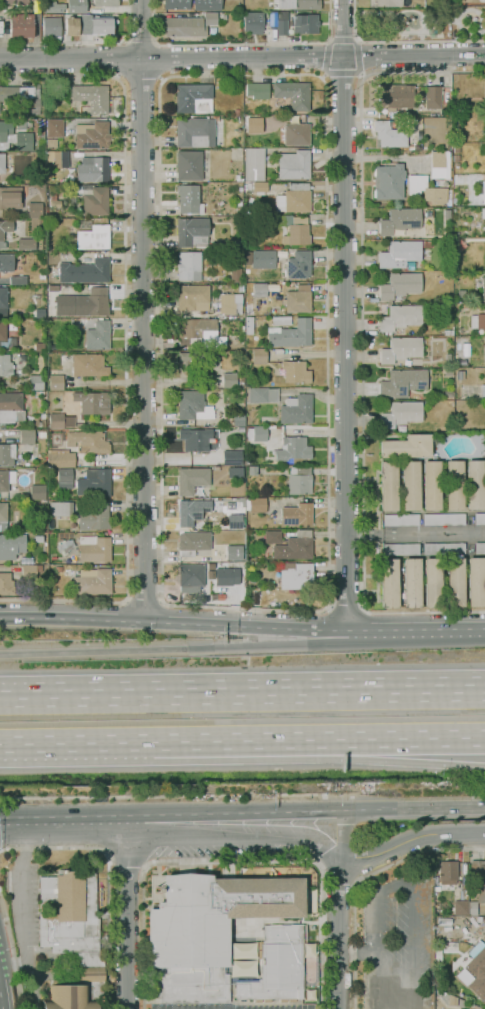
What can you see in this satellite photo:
building: (484, 1)
building: (16, 2)
building: (104, 2)
building: (389, 3)
building: (176, 4)
building: (297, 4)
building: (207, 5)
building: (421, 5)
building: (76, 6)
building: (54, 7)
building: (237, 8)
building: (480, 10)
building: (211, 18)
building: (253, 22)
building: (294, 23)
building: (22, 25)
building: (72, 25)
building: (101, 25)
building: (184, 27)
building: (51, 28)
road: (140, 40)
road: (84, 41)
road: (343, 41)
road: (399, 41)
road: (242, 44)
road: (242, 56)
road: (361, 58)
road: (116, 59)
road: (161, 63)
road: (342, 74)
road: (140, 80)
building: (258, 90)
building: (28, 91)
building: (484, 91)
building: (9, 93)
building: (420, 93)
building: (294, 94)
building: (396, 96)
building: (433, 96)
building: (92, 97)
building: (194, 98)
building: (283, 104)
building: (37, 106)
building: (237, 112)
building: (237, 118)
building: (418, 122)
building: (21, 124)
building: (253, 124)
building: (54, 128)
building: (5, 130)
building: (193, 131)
building: (298, 132)
building: (415, 133)
building: (92, 135)
building: (456, 135)
building: (395, 137)
building: (23, 140)
building: (52, 143)
building: (457, 149)
building: (59, 158)
building: (457, 158)
building: (2, 163)
building: (254, 163)
building: (294, 164)
building: (189, 165)
building: (457, 165)
building: (441, 168)
building: (93, 169)
building: (72, 177)
building: (239, 178)
building: (388, 181)
building: (258, 186)
building: (426, 189)
building: (31, 190)
building: (484, 192)
building: (11, 197)
building: (188, 198)
building: (294, 198)
building: (93, 199)
building: (70, 201)
building: (246, 201)
building: (57, 203)
building: (238, 209)
building: (35, 210)
building: (457, 211)
building: (251, 212)
building: (483, 213)
building: (400, 221)
building: (294, 229)
building: (191, 230)
building: (2, 236)
building: (94, 237)
building: (26, 243)
building: (483, 243)
building: (427, 244)
building: (399, 254)
building: (44, 255)
building: (17, 259)
building: (263, 259)
building: (6, 262)
building: (299, 264)
building: (189, 265)
building: (85, 270)
building: (42, 275)
building: (235, 275)
building: (50, 277)
building: (18, 280)
building: (222, 285)
building: (401, 285)
building: (483, 288)
building: (223, 290)
building: (260, 290)
building: (193, 297)
building: (298, 299)
building: (3, 301)
building: (231, 303)
building: (91, 304)
building: (466, 305)
road: (142, 307)
building: (51, 310)
building: (41, 313)
road: (345, 315)
building: (400, 318)
building: (282, 320)
building: (478, 321)
building: (249, 325)
building: (14, 326)
building: (3, 328)
building: (199, 332)
building: (449, 332)
building: (291, 334)
building: (99, 335)
road: (362, 340)
building: (483, 341)
road: (125, 342)
building: (41, 348)
building: (186, 348)
building: (401, 349)
building: (260, 355)
building: (108, 359)
building: (11, 362)
building: (194, 362)
building: (88, 365)
building: (296, 371)
building: (449, 371)
building: (53, 372)
building: (460, 374)
building: (231, 379)
building: (36, 382)
building: (56, 382)
building: (401, 382)
building: (483, 390)
building: (39, 394)
building: (448, 394)
building: (262, 395)
building: (92, 403)
building: (193, 405)
building: (11, 408)
building: (297, 409)
building: (401, 414)
building: (61, 420)
building: (240, 421)
building: (258, 433)
building: (27, 437)
building: (196, 439)
building: (88, 441)
building: (407, 446)
building: (483, 446)
building: (292, 448)
building: (7, 454)
building: (230, 457)
building: (61, 459)
building: (29, 468)
building: (252, 470)
building: (64, 478)
building: (6, 479)
building: (192, 479)
building: (300, 480)
building: (94, 482)
building: (454, 484)
building: (475, 484)
building: (411, 485)
building: (432, 485)
building: (388, 486)
building: (38, 492)
building: (36, 504)
building: (257, 504)
building: (61, 508)
building: (192, 511)
building: (296, 514)
building: (3, 516)
building: (95, 517)
building: (479, 518)
building: (235, 519)
building: (401, 519)
building: (444, 519)
building: (74, 529)
road: (416, 534)
building: (217, 535)
building: (39, 538)
building: (193, 543)
building: (291, 544)
building: (12, 545)
building: (64, 546)
building: (95, 548)
building: (401, 548)
building: (444, 548)
building: (480, 548)
building: (237, 554)
building: (53, 557)
building: (31, 560)
building: (58, 569)
building: (238, 570)
building: (30, 571)
building: (296, 575)
building: (225, 576)
building: (191, 577)
building: (92, 581)
building: (476, 581)
building: (249, 582)
building: (412, 582)
building: (432, 582)
building: (455, 582)
building: (389, 583)
building: (6, 584)
building: (257, 592)
road: (144, 598)
road: (329, 604)
road: (345, 607)
road: (122, 616)
road: (175, 617)
road: (169, 619)
road: (113, 630)
road: (417, 630)
road: (176, 650)
road: (242, 696)
road: (407, 738)
road: (240, 740)
road: (76, 742)
road: (403, 761)
road: (157, 797)
road: (414, 808)
road: (234, 816)
road: (63, 824)
road: (235, 832)
road: (341, 834)
road: (410, 839)
road: (232, 860)
road: (111, 863)
road: (128, 863)
road: (144, 864)
building: (477, 865)
building: (446, 871)
road: (109, 876)
road: (359, 879)
road: (397, 884)
building: (478, 895)
building: (461, 907)
road: (126, 915)
building: (72, 920)
building: (207, 930)
road: (338, 933)
parking lot: (397, 942)
road: (11, 954)
building: (438, 955)
road: (357, 956)
building: (241, 959)
building: (279, 967)
building: (475, 970)
building: (68, 998)
building: (452, 1000)
parking lot: (226, 1006)
building: (457, 1008)
building: (461, 1008)

